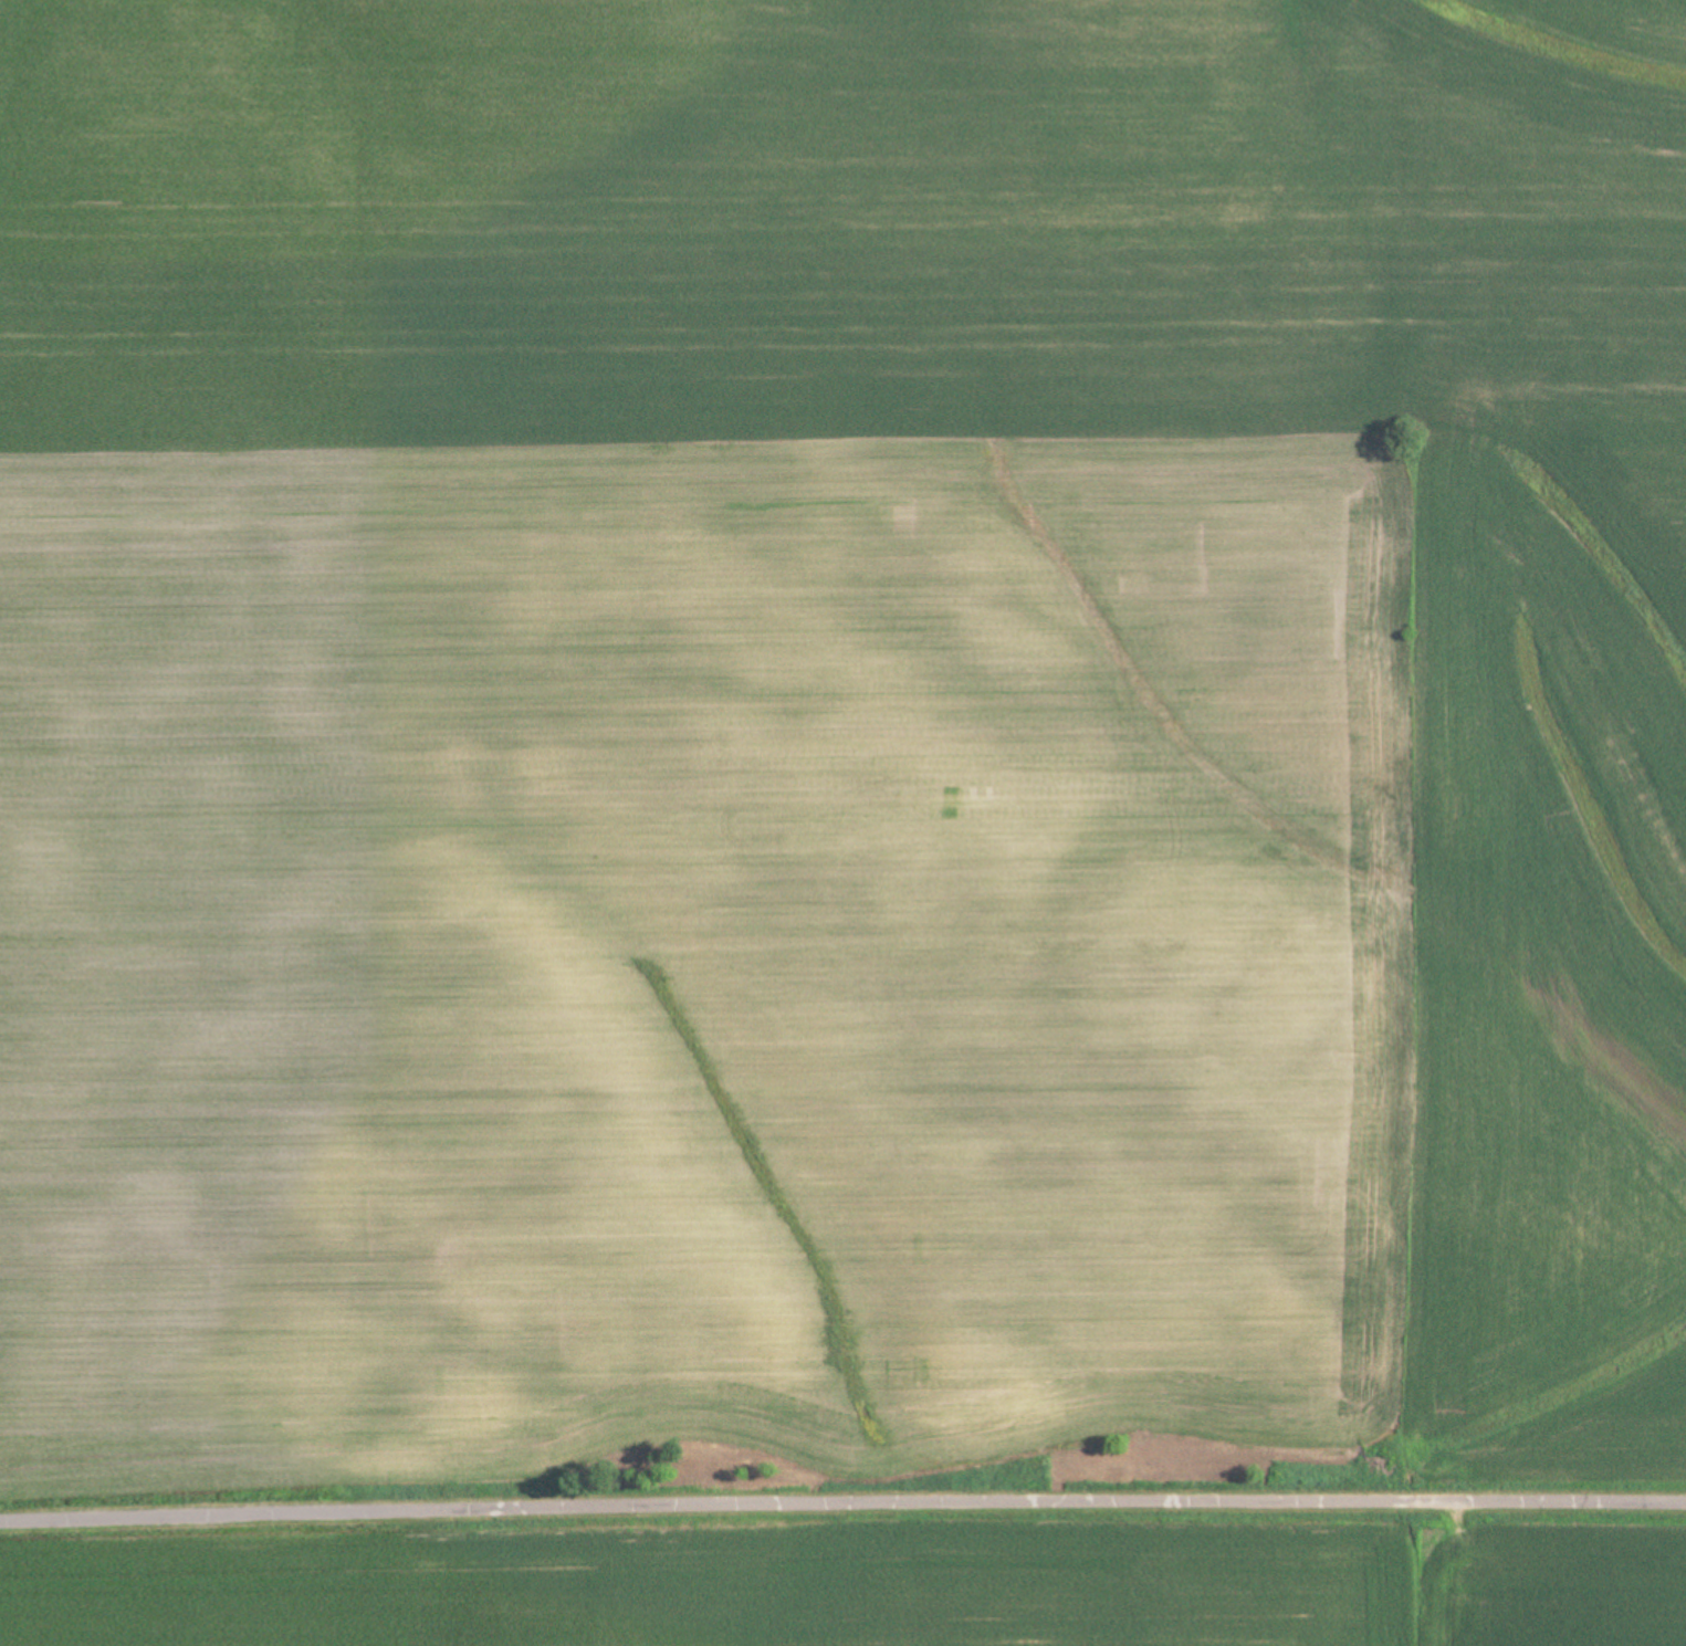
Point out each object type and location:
road: (842, 1496)

